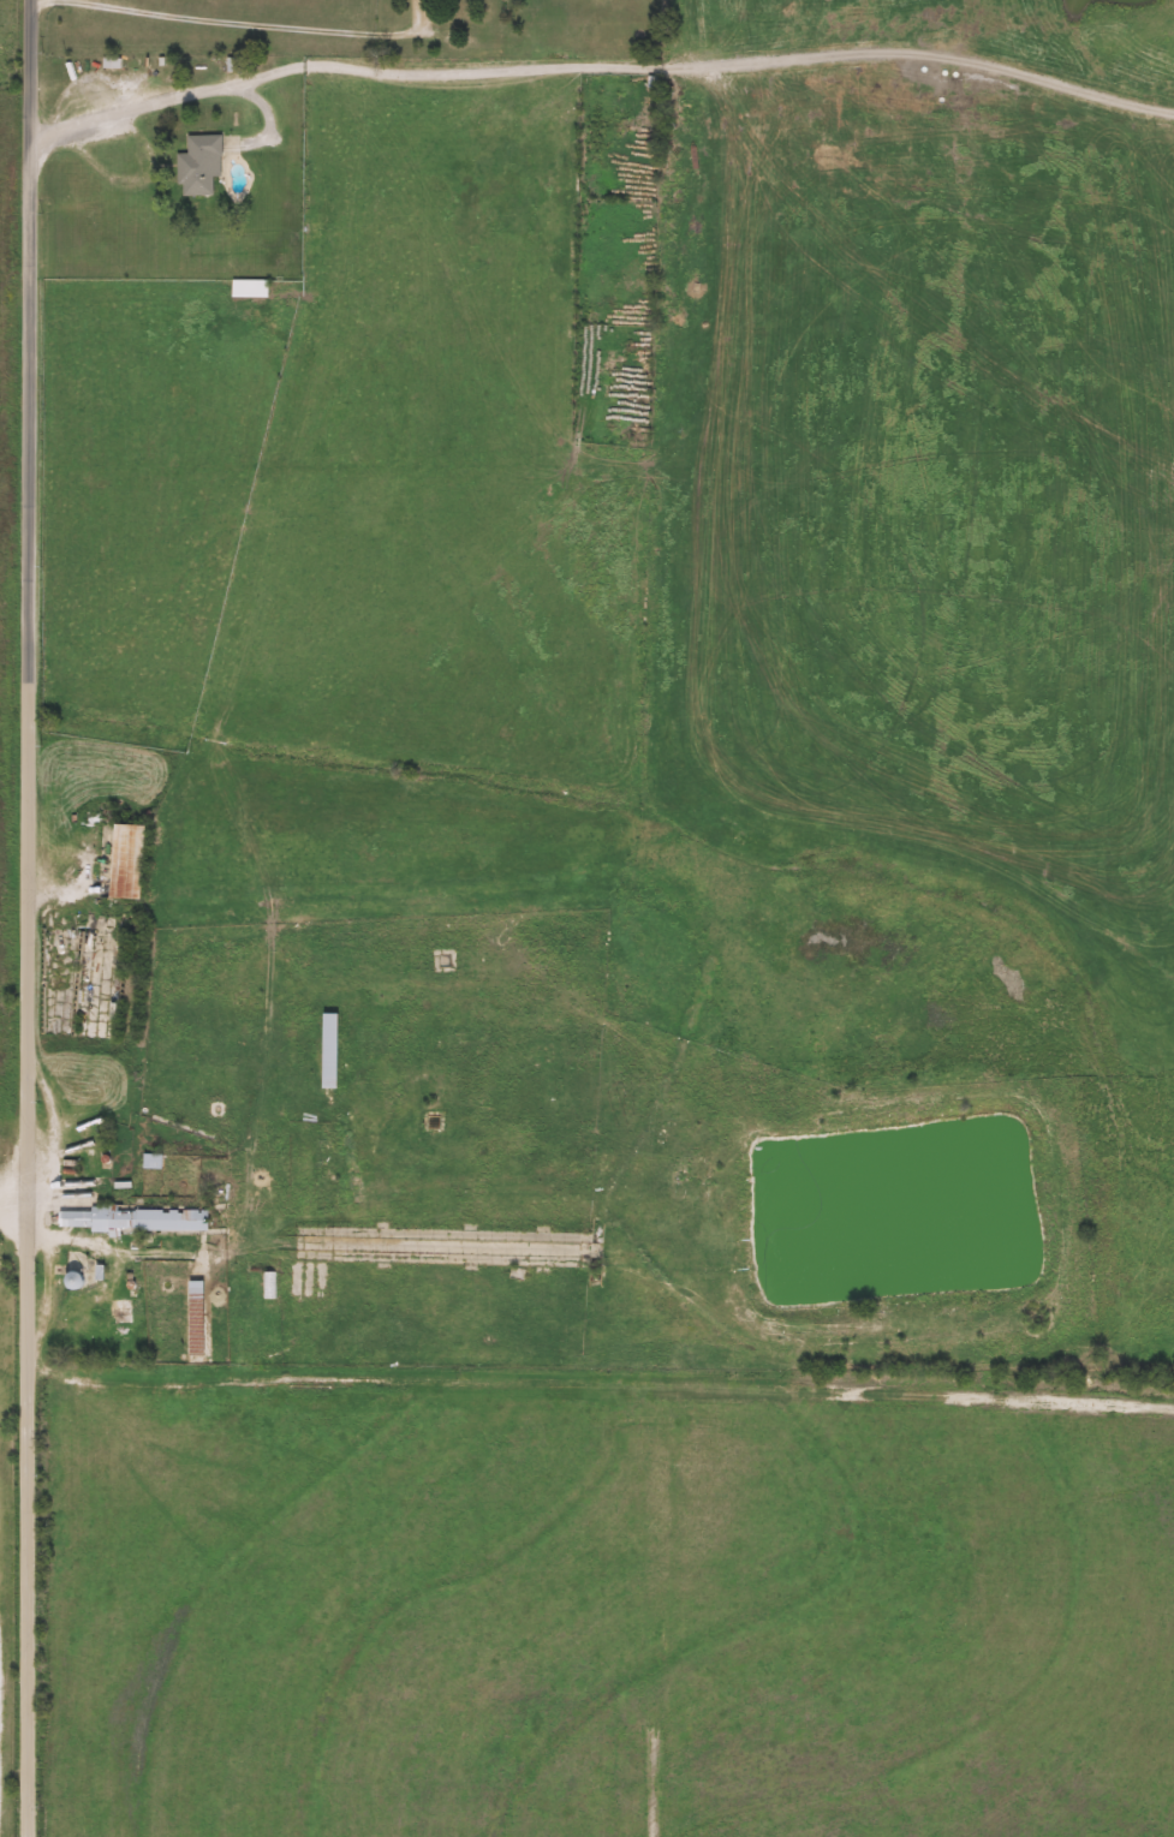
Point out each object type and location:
road: (243, 23)
road: (167, 99)
building: (201, 165)
building: (251, 290)
building: (125, 858)
road: (34, 918)
building: (332, 1061)
building: (329, 1165)
building: (130, 1219)
building: (124, 1312)
building: (197, 1318)

